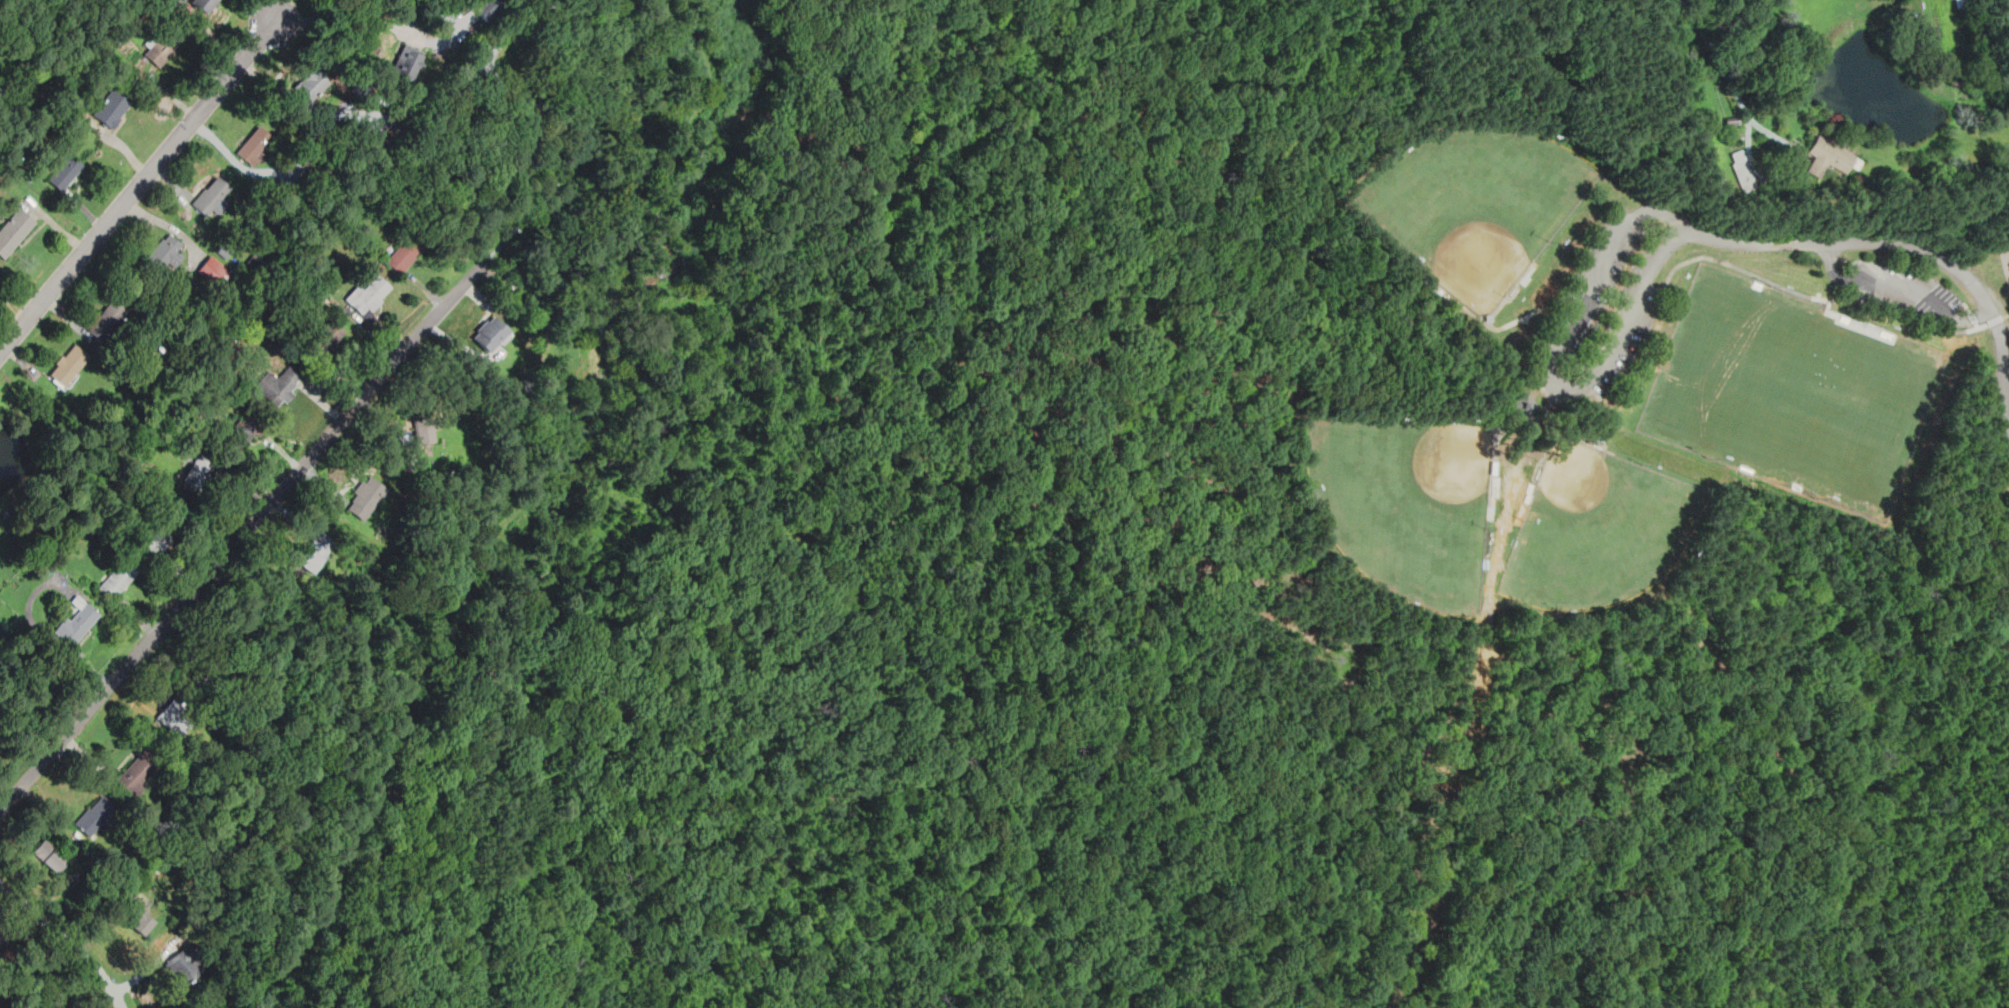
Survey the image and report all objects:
building: (175, 2)
building: (204, 4)
building: (486, 7)
road: (275, 11)
road: (356, 15)
road: (212, 18)
street lamp: (333, 31)
road: (215, 35)
road: (579, 36)
building: (166, 44)
road: (1717, 56)
building: (411, 61)
road: (1244, 79)
building: (311, 86)
road: (1513, 104)
building: (112, 108)
building: (523, 109)
street lamp: (176, 112)
road: (118, 125)
road: (215, 139)
road: (123, 145)
building: (254, 145)
building: (1827, 155)
building: (309, 157)
building: (1743, 170)
building: (65, 172)
road: (1786, 176)
road: (172, 183)
building: (1721, 184)
road: (79, 186)
road: (138, 187)
building: (213, 195)
park: (1474, 208)
road: (86, 209)
road: (56, 224)
road: (170, 226)
building: (14, 231)
road: (34, 236)
road: (1888, 247)
building: (403, 251)
building: (166, 252)
road: (1730, 266)
building: (213, 269)
road: (1582, 270)
building: (508, 284)
parking lot: (1906, 290)
street lamp: (26, 291)
road: (1900, 293)
building: (368, 295)
road: (596, 295)
road: (1561, 303)
parking lot: (1609, 310)
road: (68, 314)
building: (110, 317)
road: (1854, 322)
road: (1506, 329)
building: (491, 333)
building: (325, 339)
road: (1547, 340)
building: (70, 363)
road: (30, 366)
building: (277, 387)
road: (1515, 387)
road: (1565, 387)
park: (1794, 392)
building: (1526, 403)
building: (425, 428)
road: (1508, 430)
building: (240, 431)
building: (199, 473)
park: (1546, 488)
building: (366, 498)
park: (1409, 508)
park: (1602, 533)
road: (242, 535)
building: (150, 538)
building: (316, 551)
building: (117, 578)
road: (1765, 580)
road: (487, 595)
building: (78, 619)
road: (1304, 636)
road: (567, 659)
building: (213, 670)
building: (177, 718)
road: (1950, 722)
road: (1870, 745)
building: (141, 771)
road: (355, 793)
road: (483, 809)
road: (636, 810)
building: (96, 815)
building: (51, 854)
building: (136, 915)
building: (3, 928)
road: (67, 938)
building: (7, 951)
building: (182, 963)

